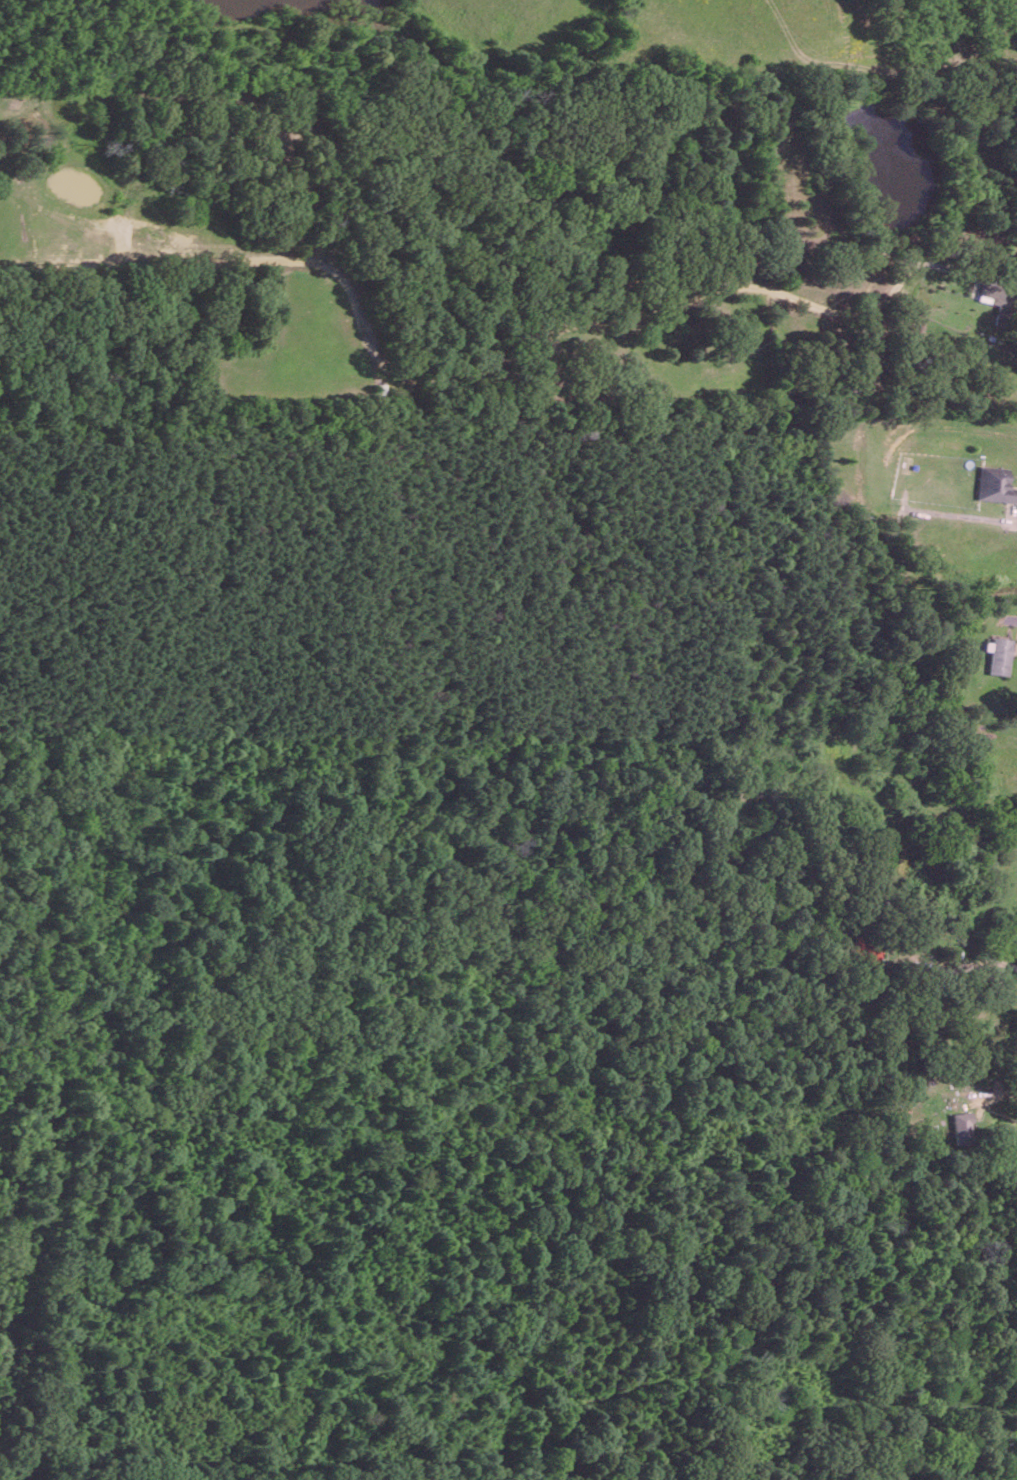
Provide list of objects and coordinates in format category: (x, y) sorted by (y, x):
road: (896, 278)
building: (995, 296)
building: (994, 484)
road: (1014, 521)
road: (1014, 620)
building: (998, 655)
road: (961, 967)
road: (998, 1093)
building: (961, 1127)

